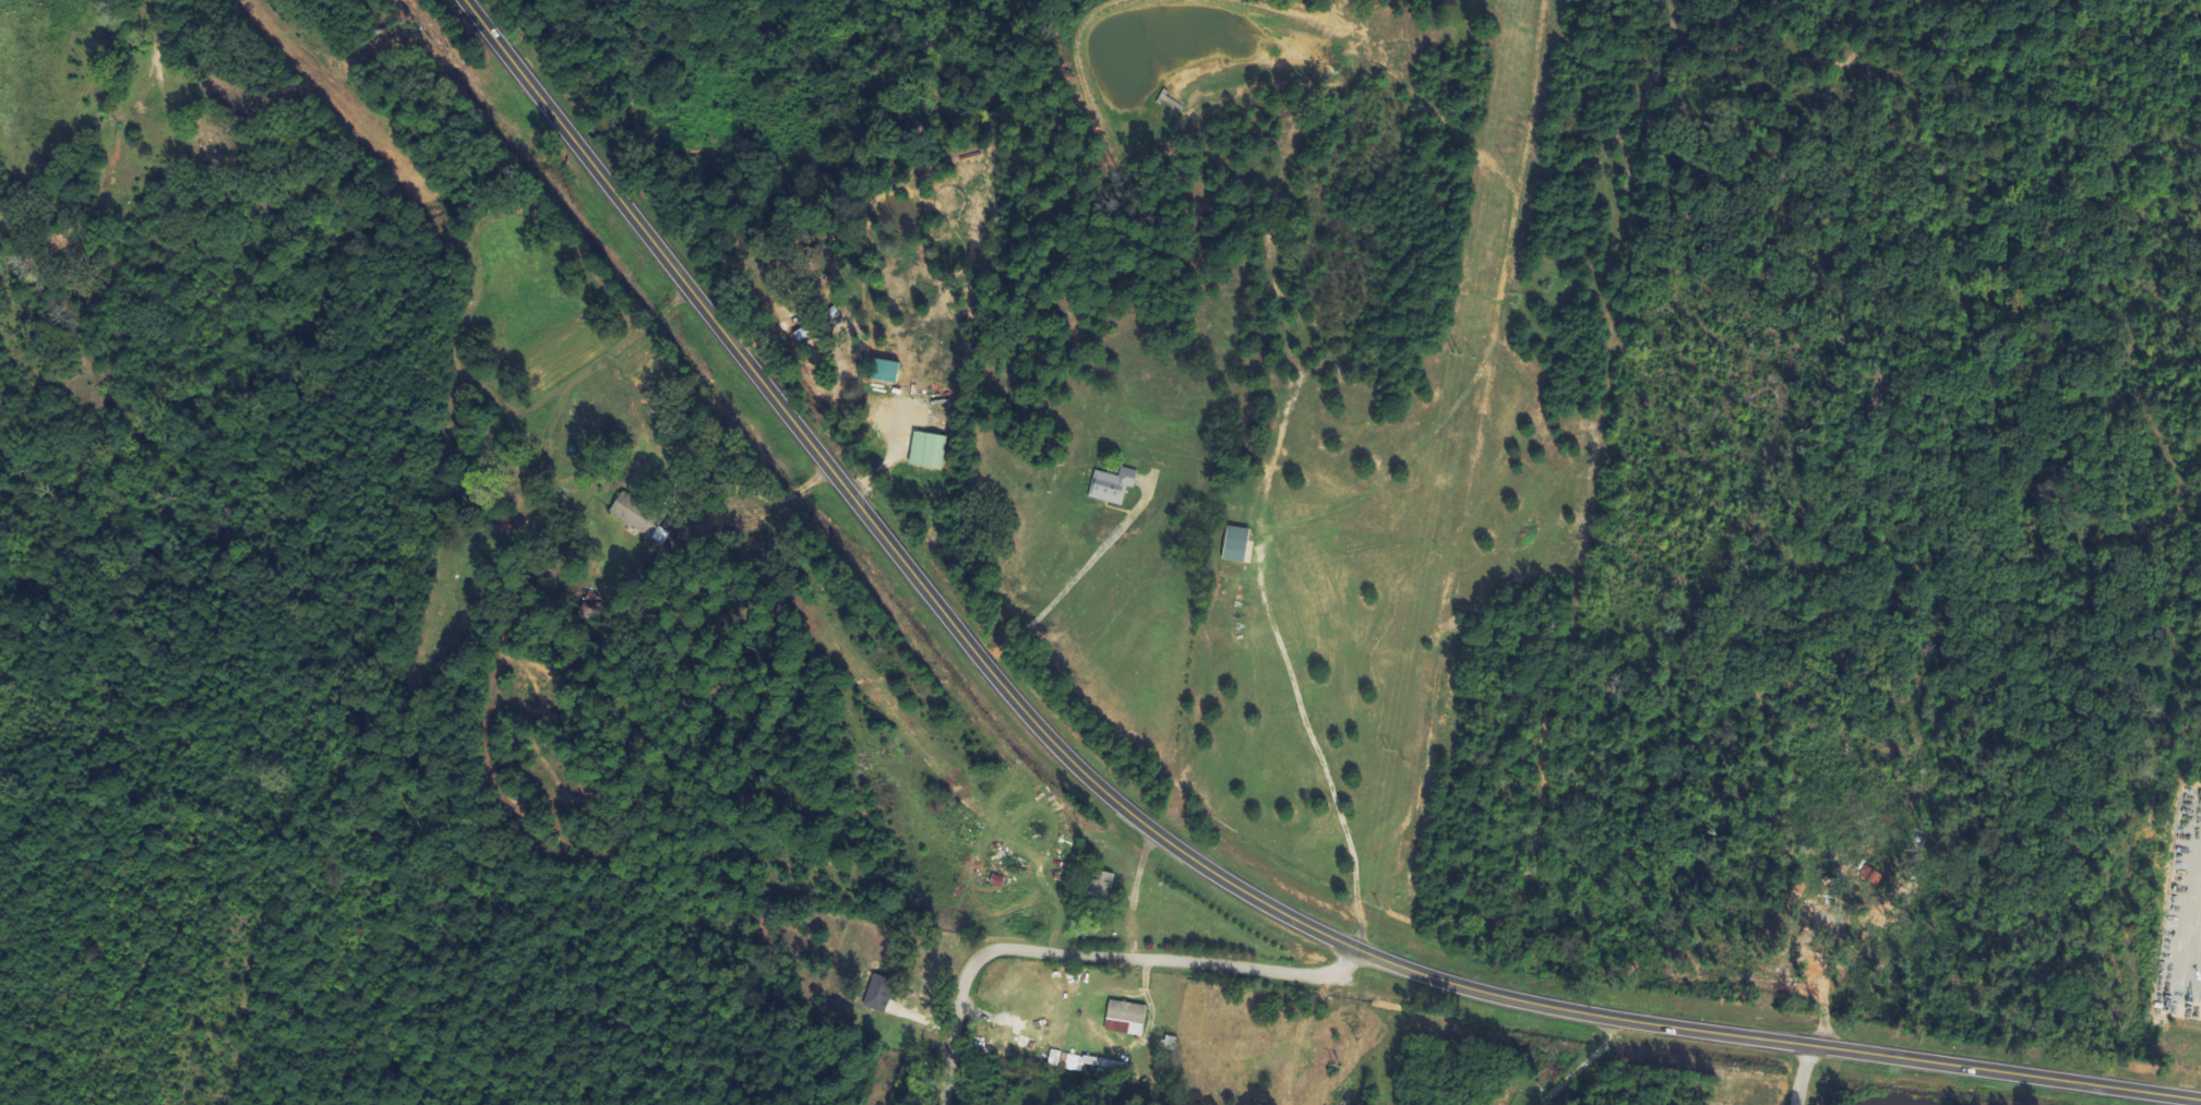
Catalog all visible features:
road: (129, 129)
building: (931, 451)
building: (1115, 485)
building: (631, 509)
building: (1239, 543)
road: (1159, 834)
building: (1873, 875)
building: (1102, 882)
building: (1802, 891)
road: (1096, 960)
building: (883, 994)
building: (1131, 1014)
road: (1804, 1074)

